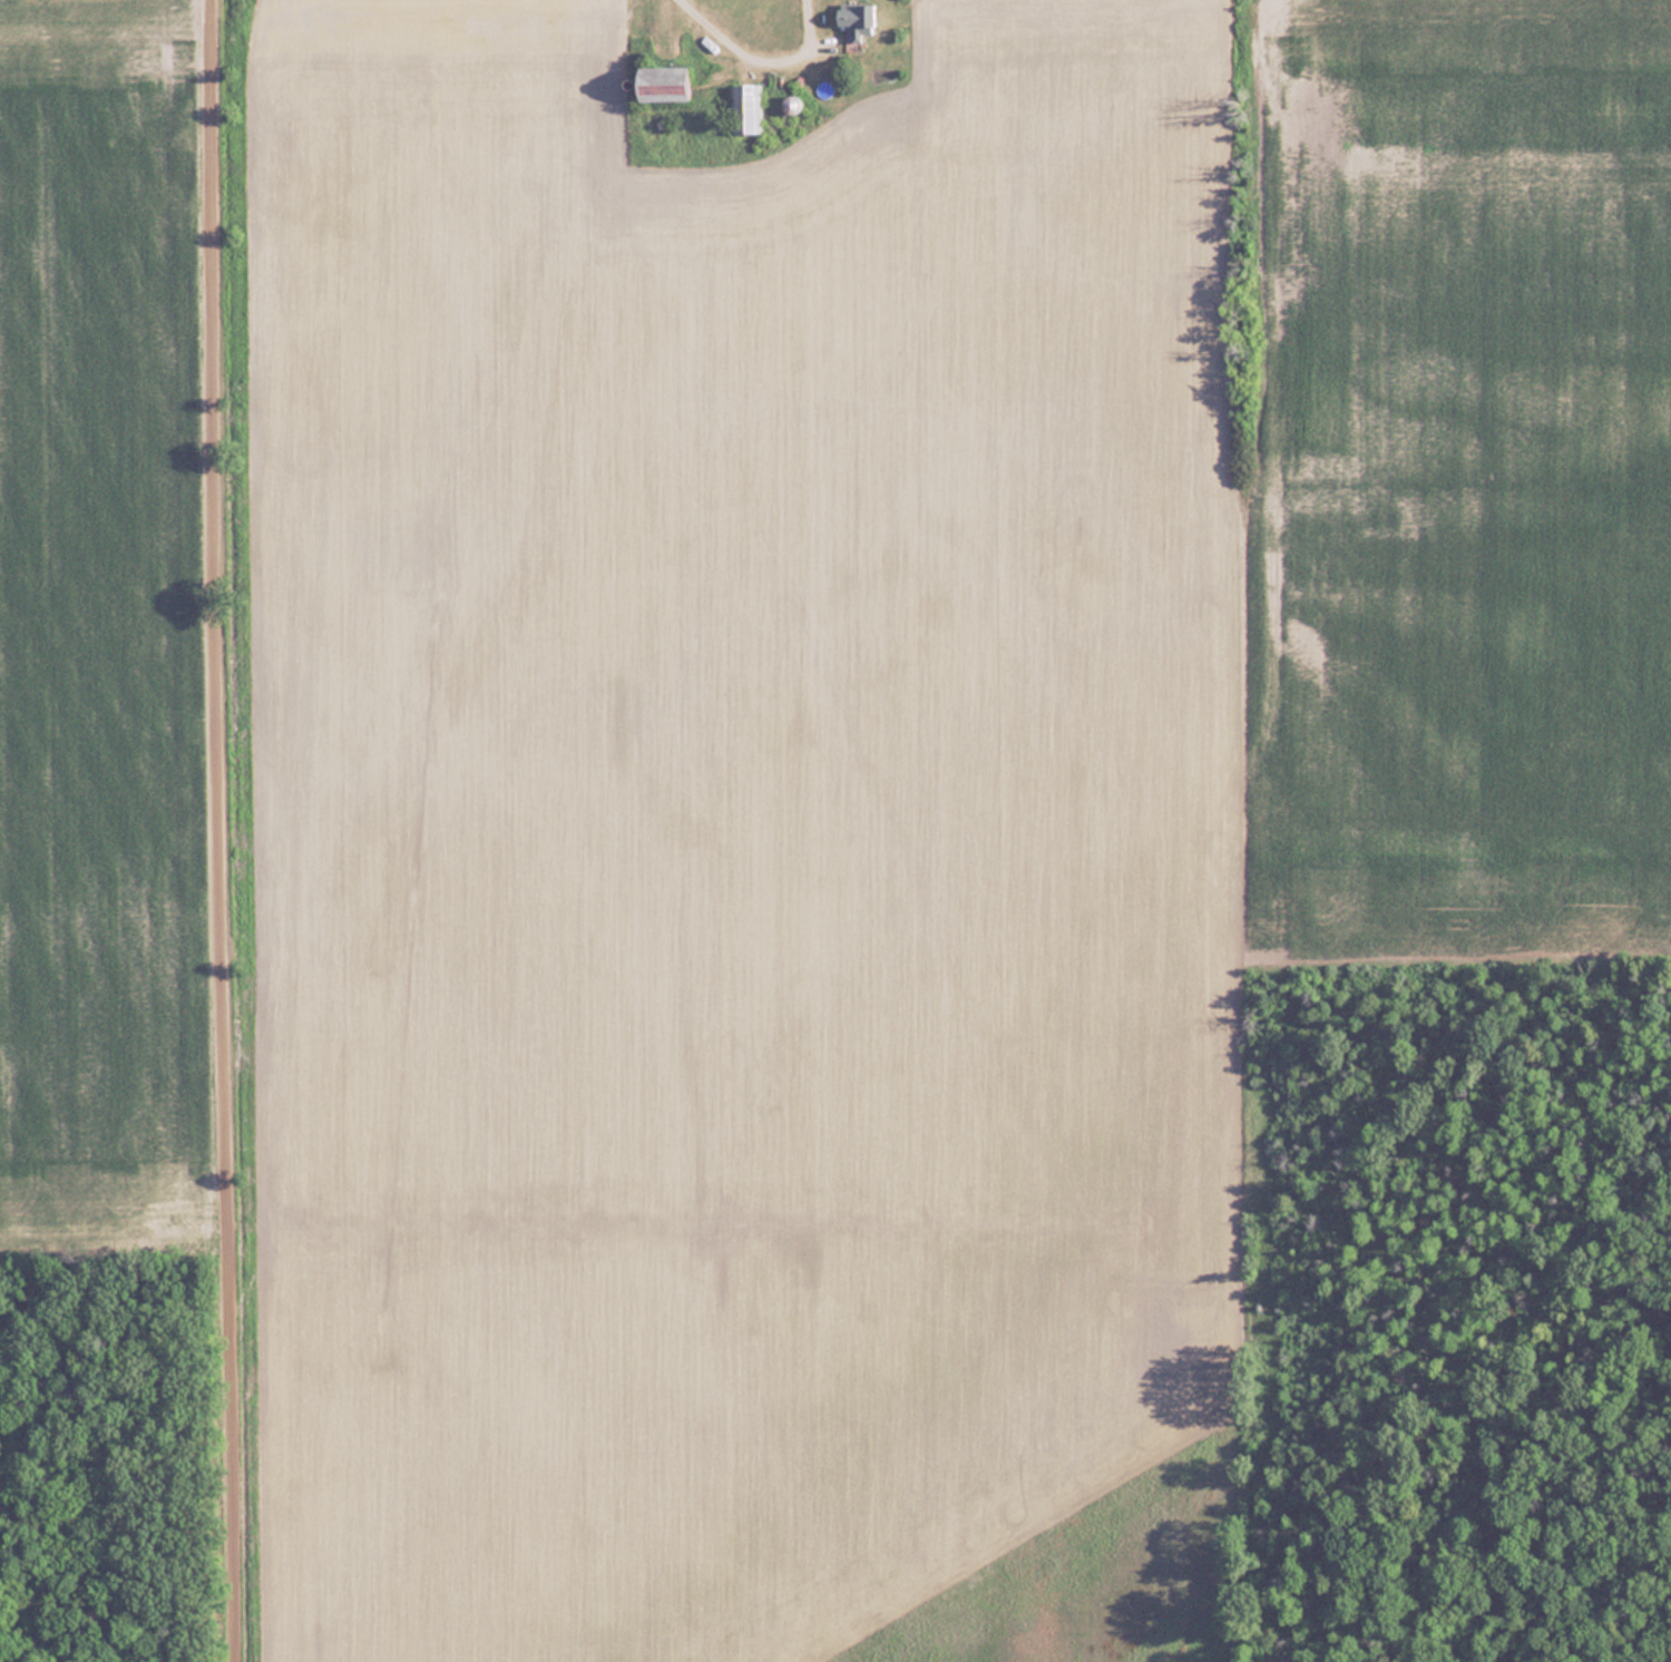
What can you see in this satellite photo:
building: (857, 18)
building: (664, 86)
building: (746, 108)
road: (224, 831)

